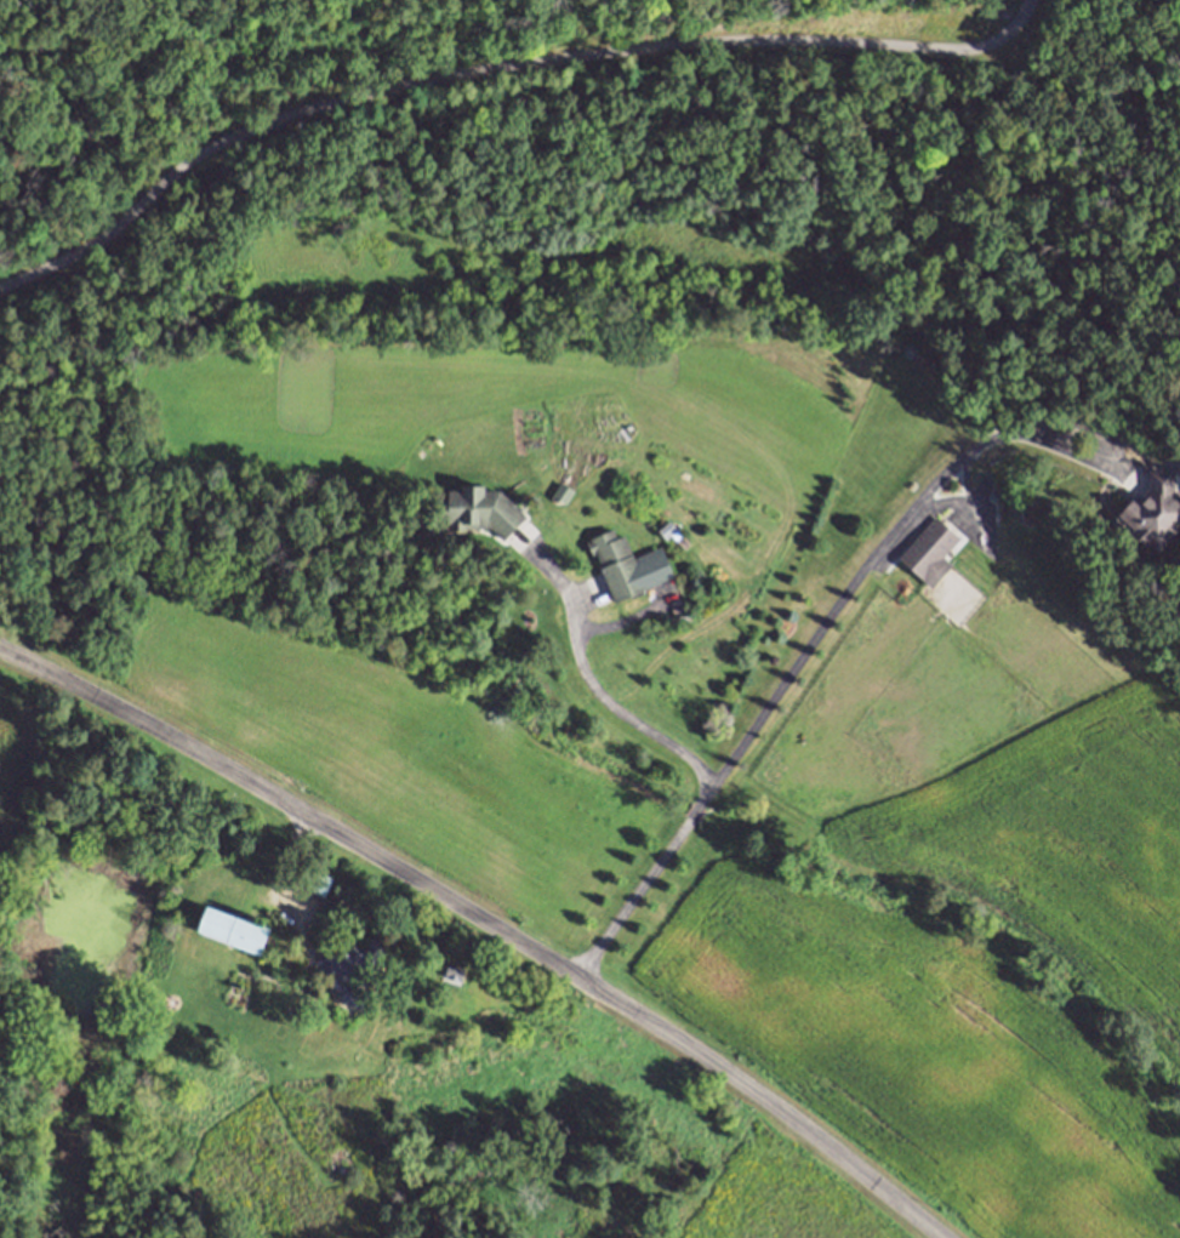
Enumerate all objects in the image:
road: (496, 75)
building: (478, 507)
building: (1153, 508)
building: (929, 546)
building: (615, 561)
road: (806, 649)
road: (589, 681)
crop: (6, 713)
building: (314, 875)
road: (484, 922)
building: (233, 928)
building: (352, 965)
building: (440, 969)

